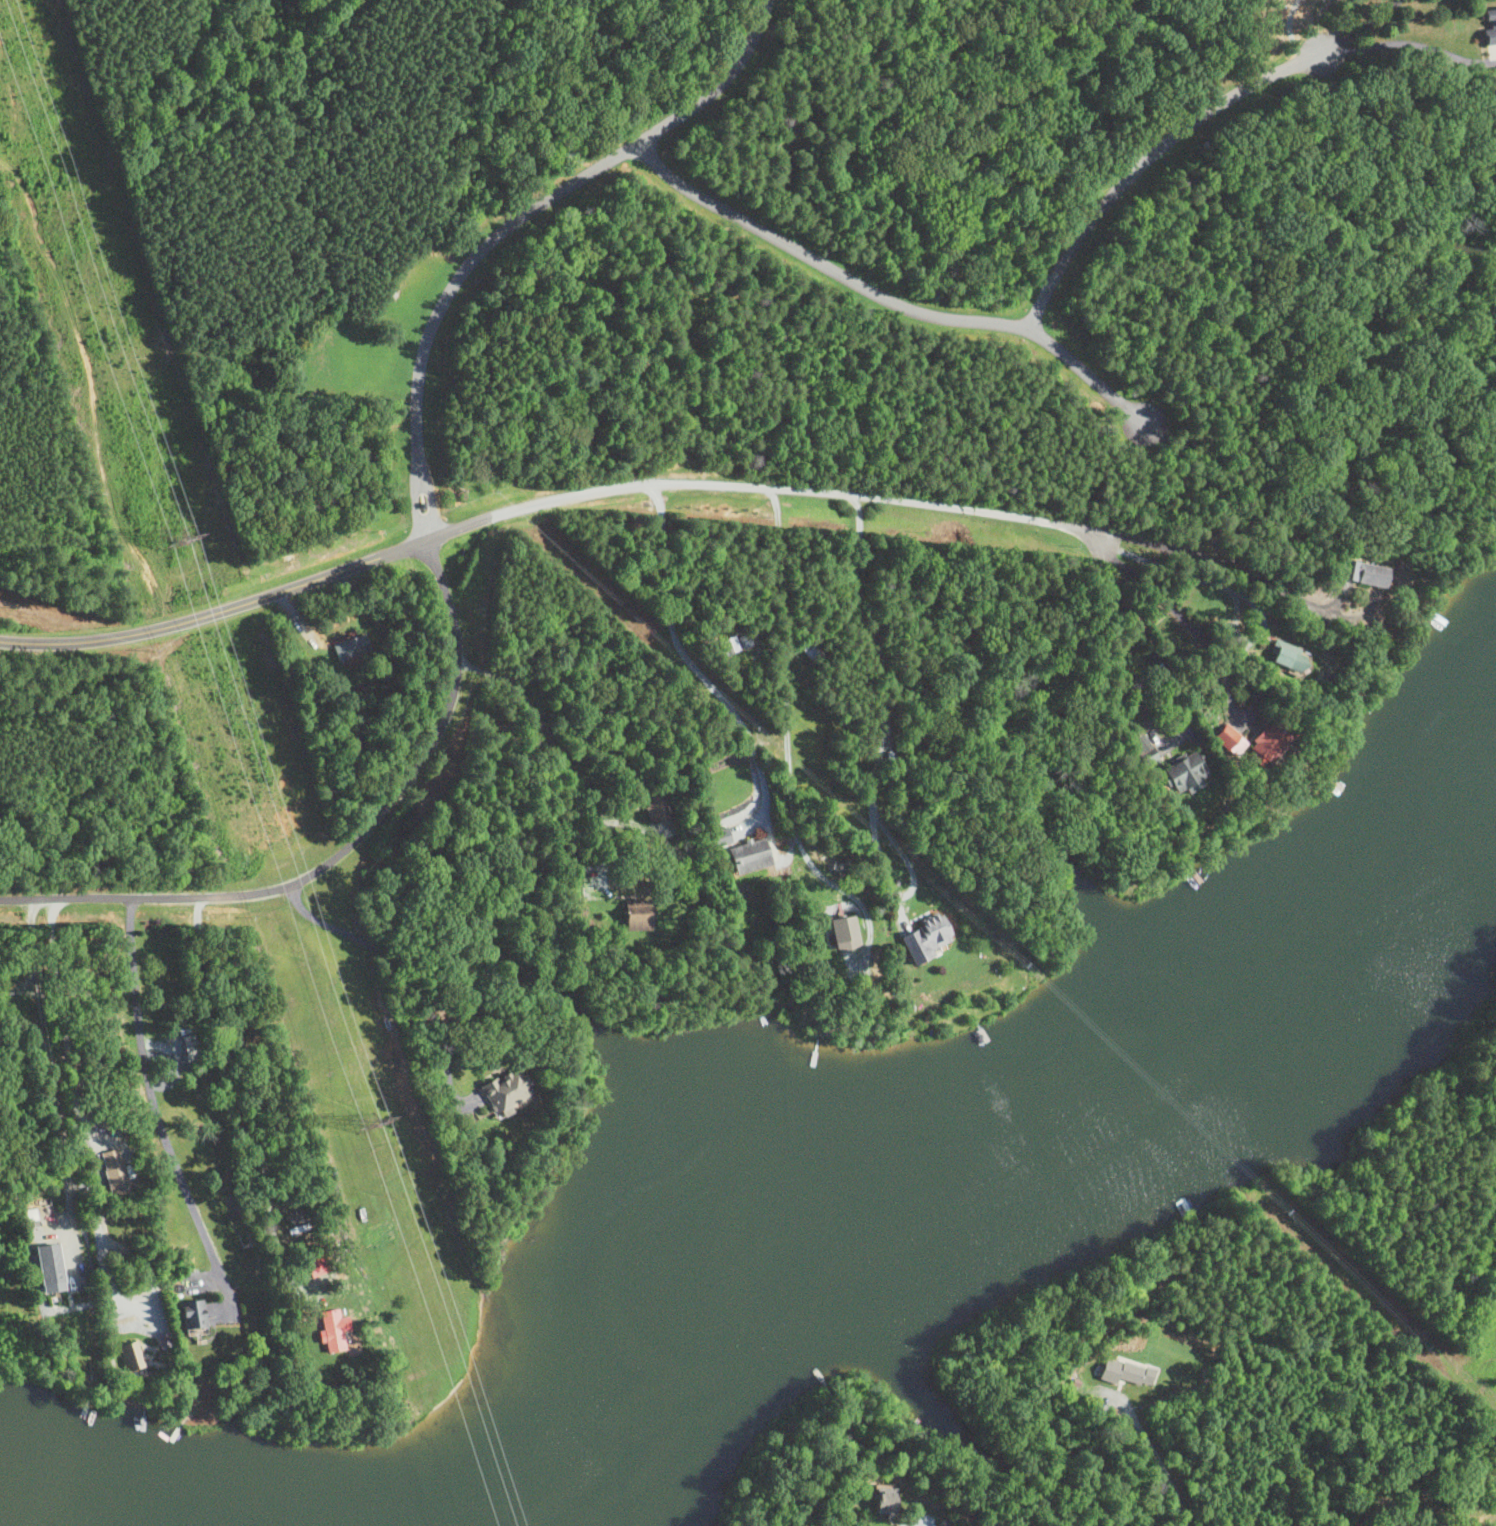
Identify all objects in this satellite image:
road: (1140, 159)
road: (508, 226)
road: (885, 301)
road: (754, 485)
power tower: (172, 547)
building: (1361, 574)
road: (1170, 607)
road: (216, 612)
building: (349, 648)
building: (1281, 656)
road: (786, 681)
building: (1223, 736)
building: (1264, 745)
building: (1181, 774)
building: (656, 808)
road: (339, 854)
building: (743, 856)
building: (850, 933)
building: (920, 936)
road: (151, 1114)
power tower: (370, 1127)
building: (118, 1174)
building: (34, 1222)
building: (319, 1264)
building: (57, 1269)
building: (195, 1316)
building: (336, 1331)
building: (168, 1343)
building: (135, 1362)
building: (879, 1500)

